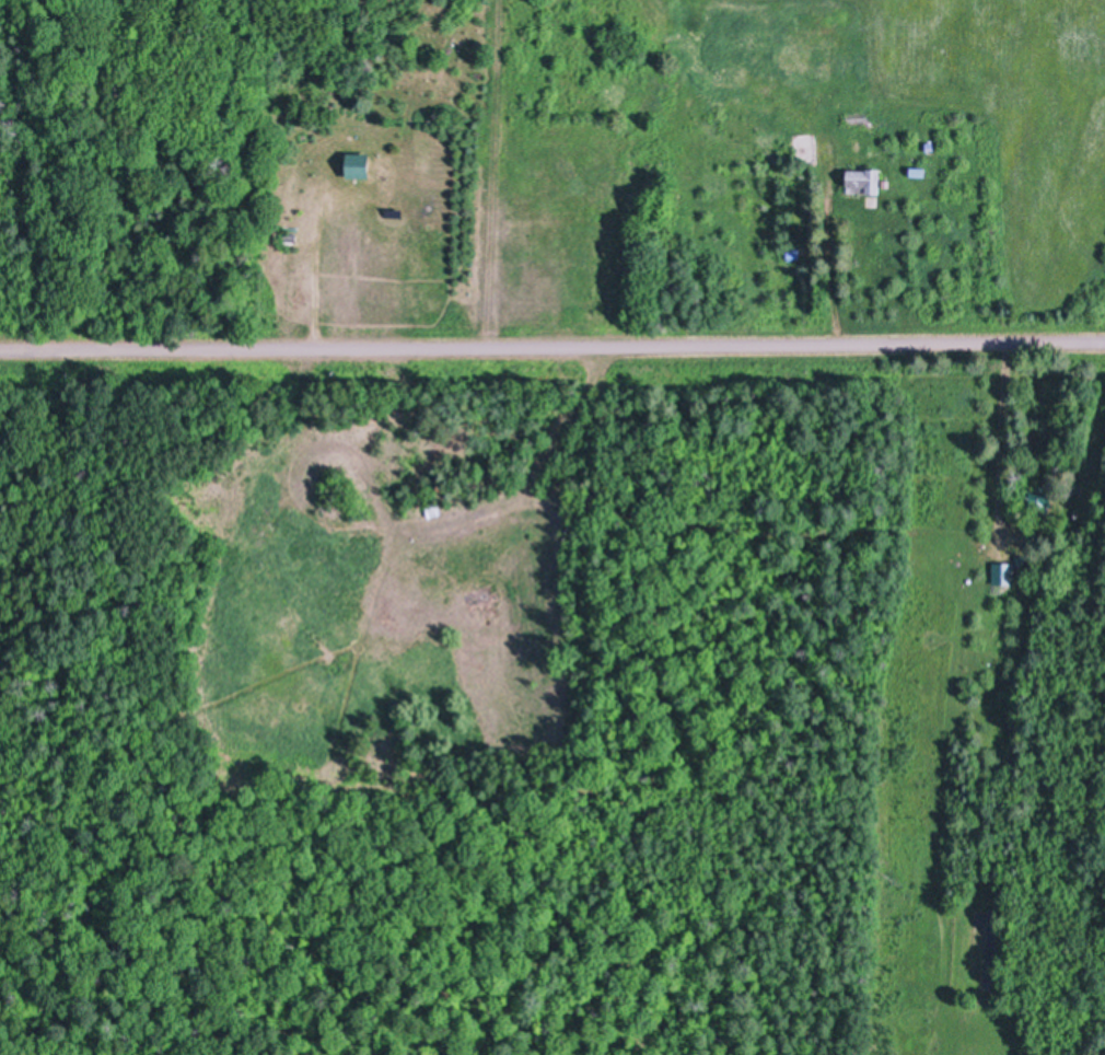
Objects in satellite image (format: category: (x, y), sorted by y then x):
building: (858, 117)
building: (360, 166)
building: (920, 172)
building: (864, 181)
building: (292, 237)
building: (794, 254)
road: (552, 347)
building: (1045, 498)
building: (435, 510)
building: (1038, 560)
building: (1007, 573)

